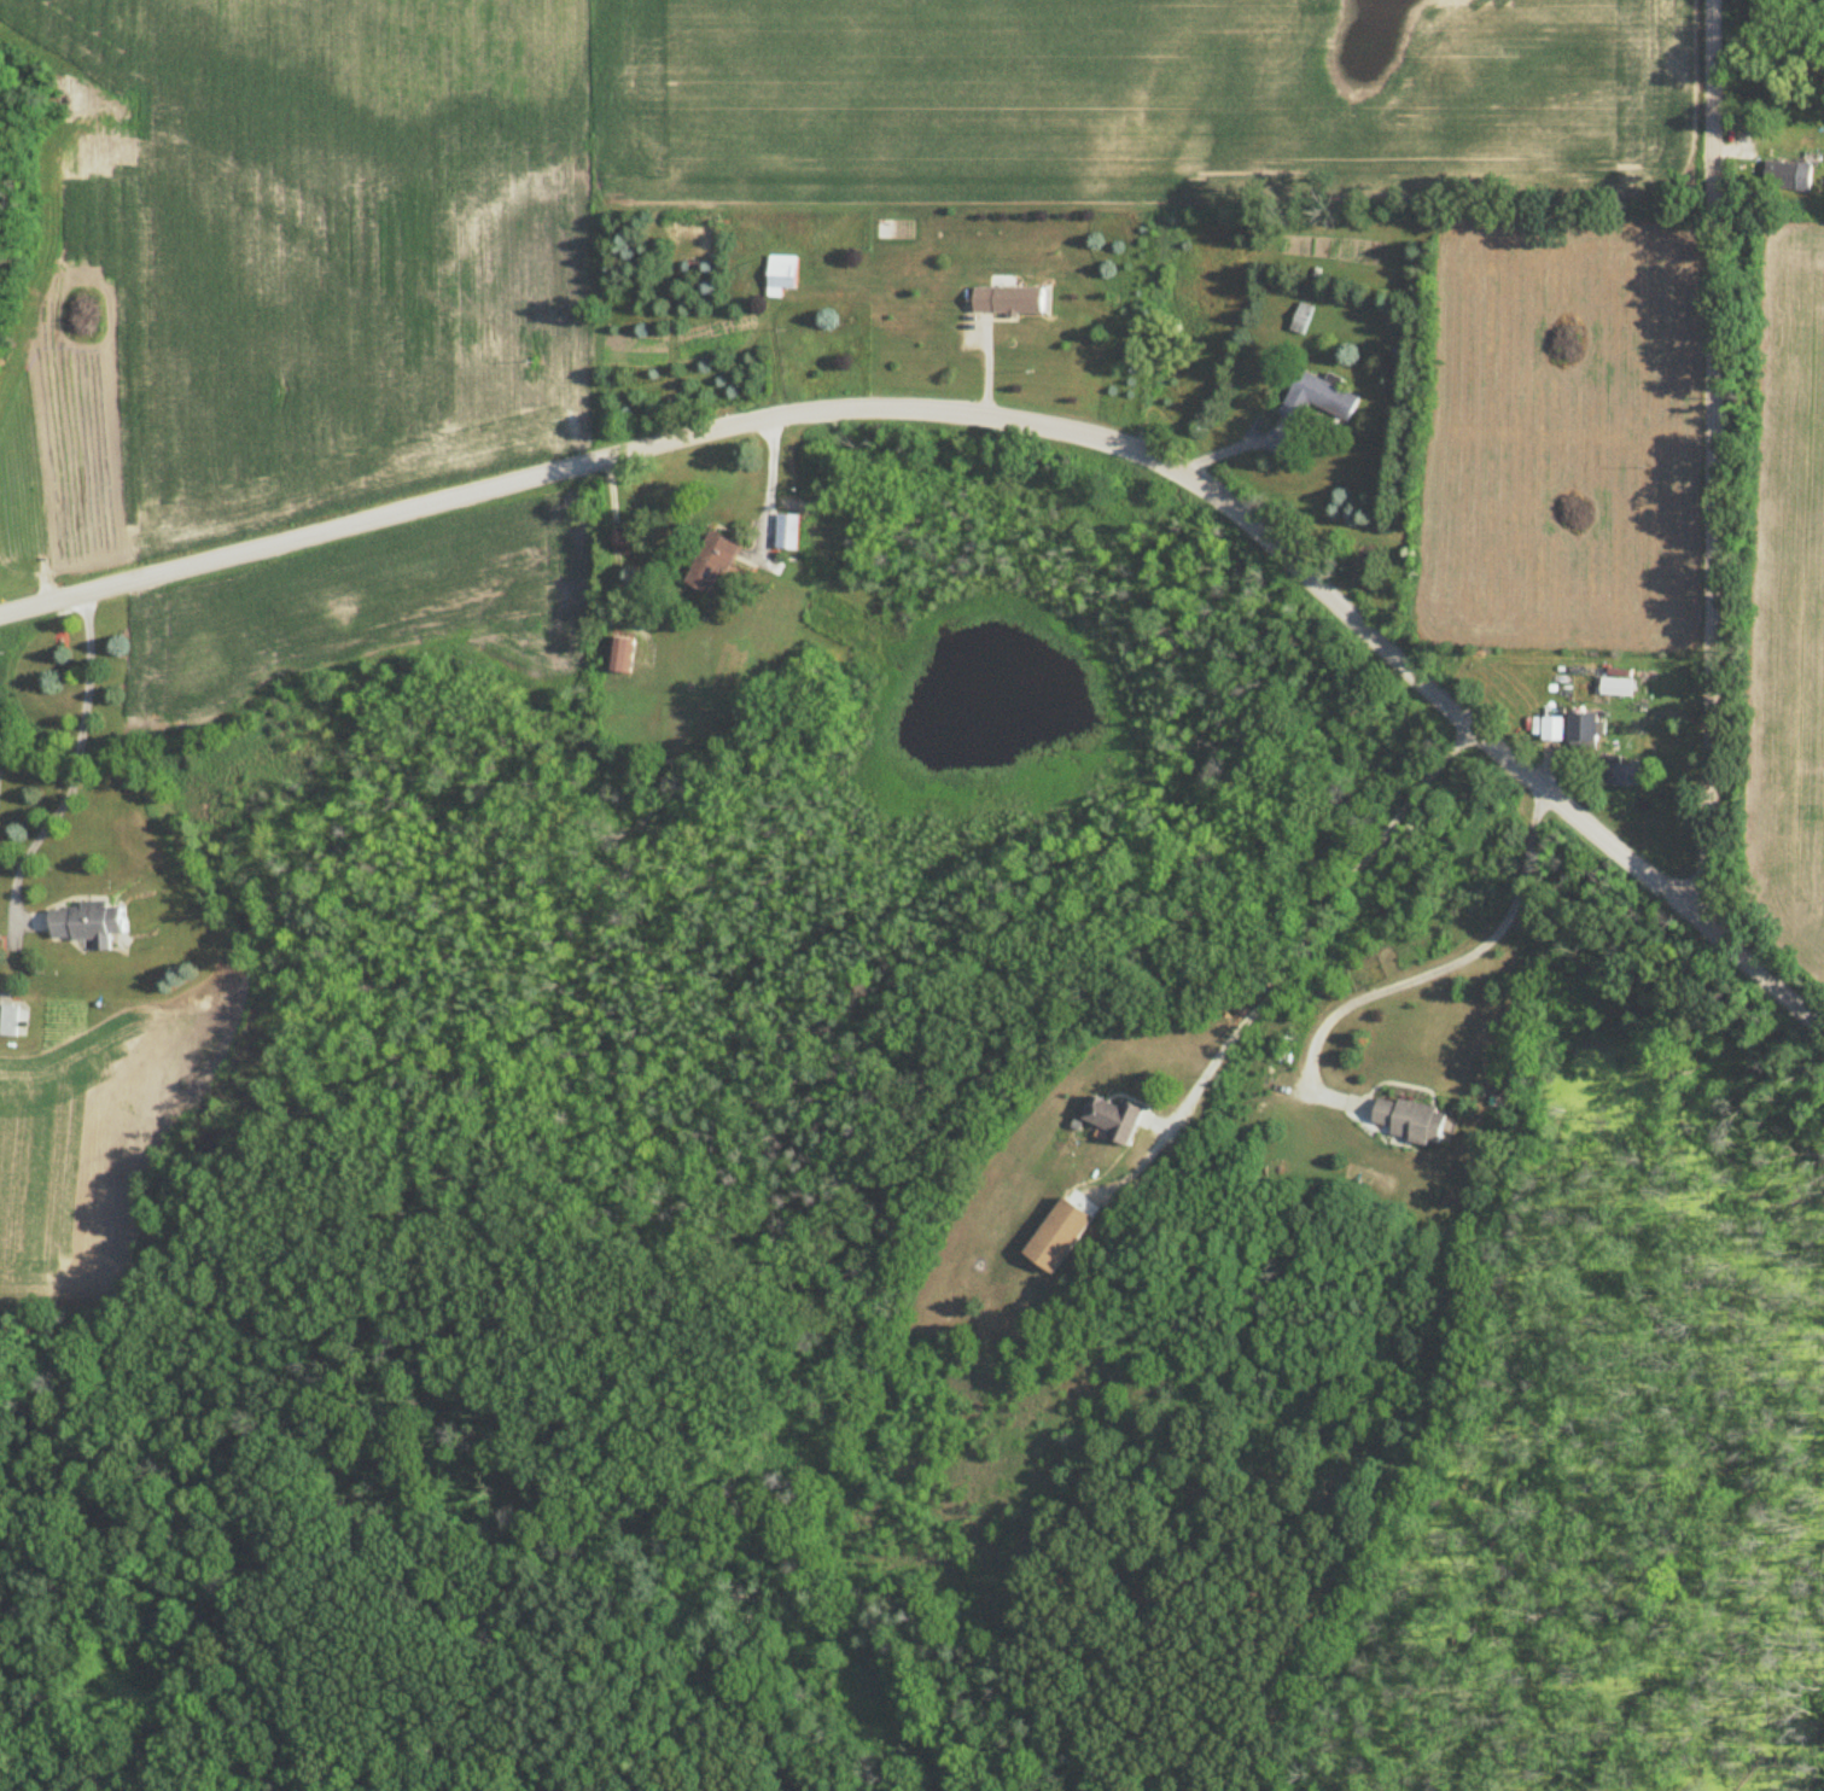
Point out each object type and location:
building: (1789, 176)
building: (781, 275)
building: (1010, 302)
building: (1303, 320)
building: (1321, 398)
road: (1010, 420)
road: (1711, 465)
road: (769, 485)
building: (788, 532)
road: (608, 536)
building: (713, 565)
building: (624, 658)
road: (88, 670)
building: (1618, 688)
building: (1555, 730)
building: (1585, 731)
road: (80, 760)
building: (1627, 776)
road: (34, 845)
road: (1324, 902)
building: (91, 924)
road: (1458, 961)
building: (10, 1020)
building: (1114, 1119)
building: (1415, 1121)
building: (1062, 1237)

